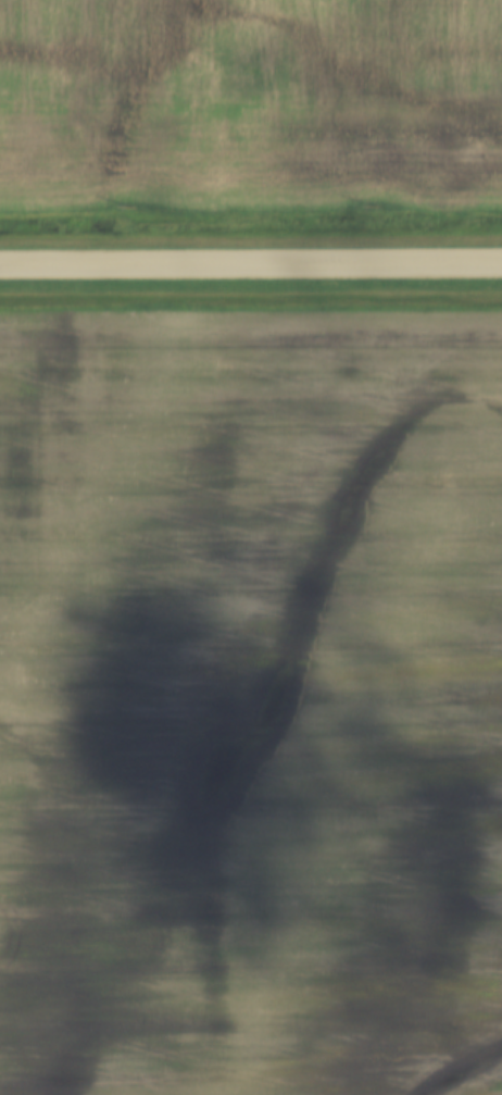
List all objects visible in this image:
road: (251, 270)

